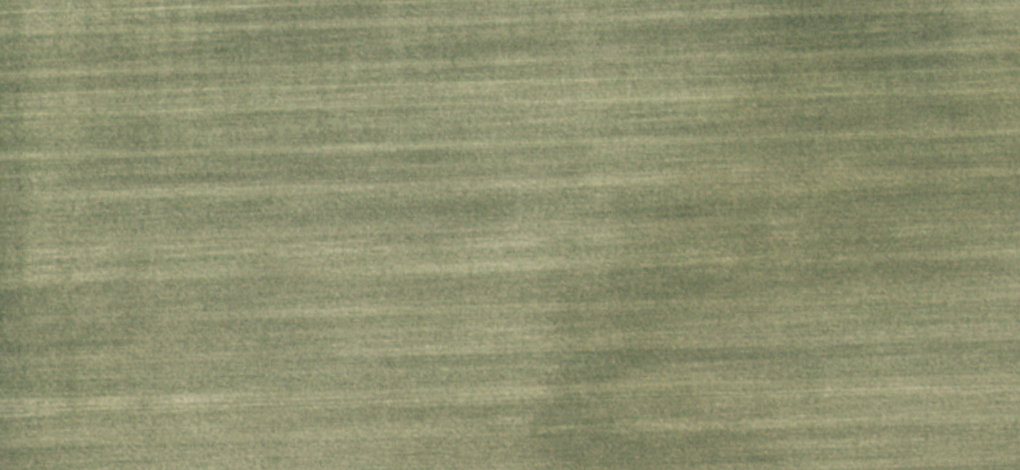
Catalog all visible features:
crop: (510, 235)

